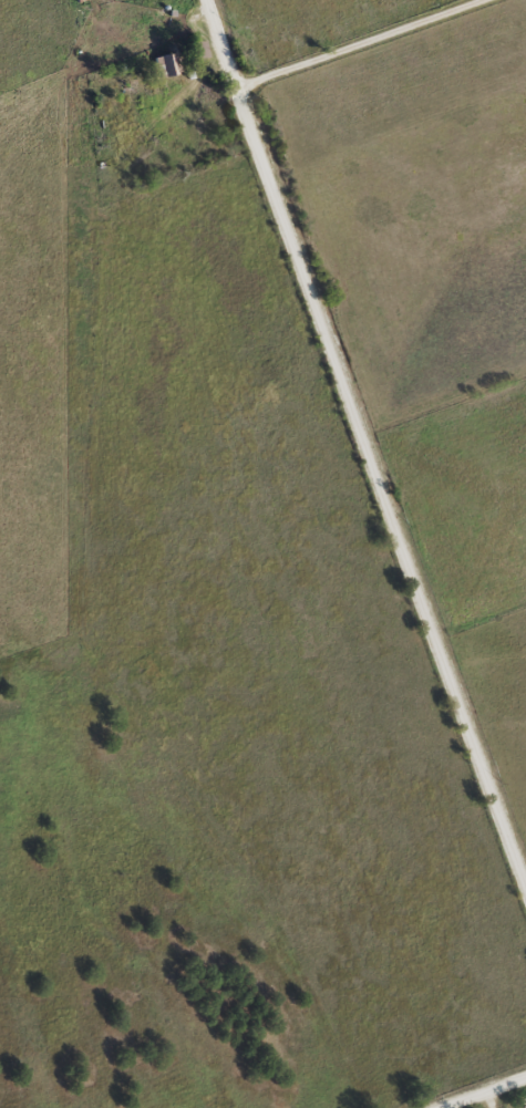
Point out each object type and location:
road: (131, 21)
building: (195, 51)
road: (377, 55)
building: (165, 65)
road: (360, 457)
road: (475, 1088)
road: (474, 1098)

